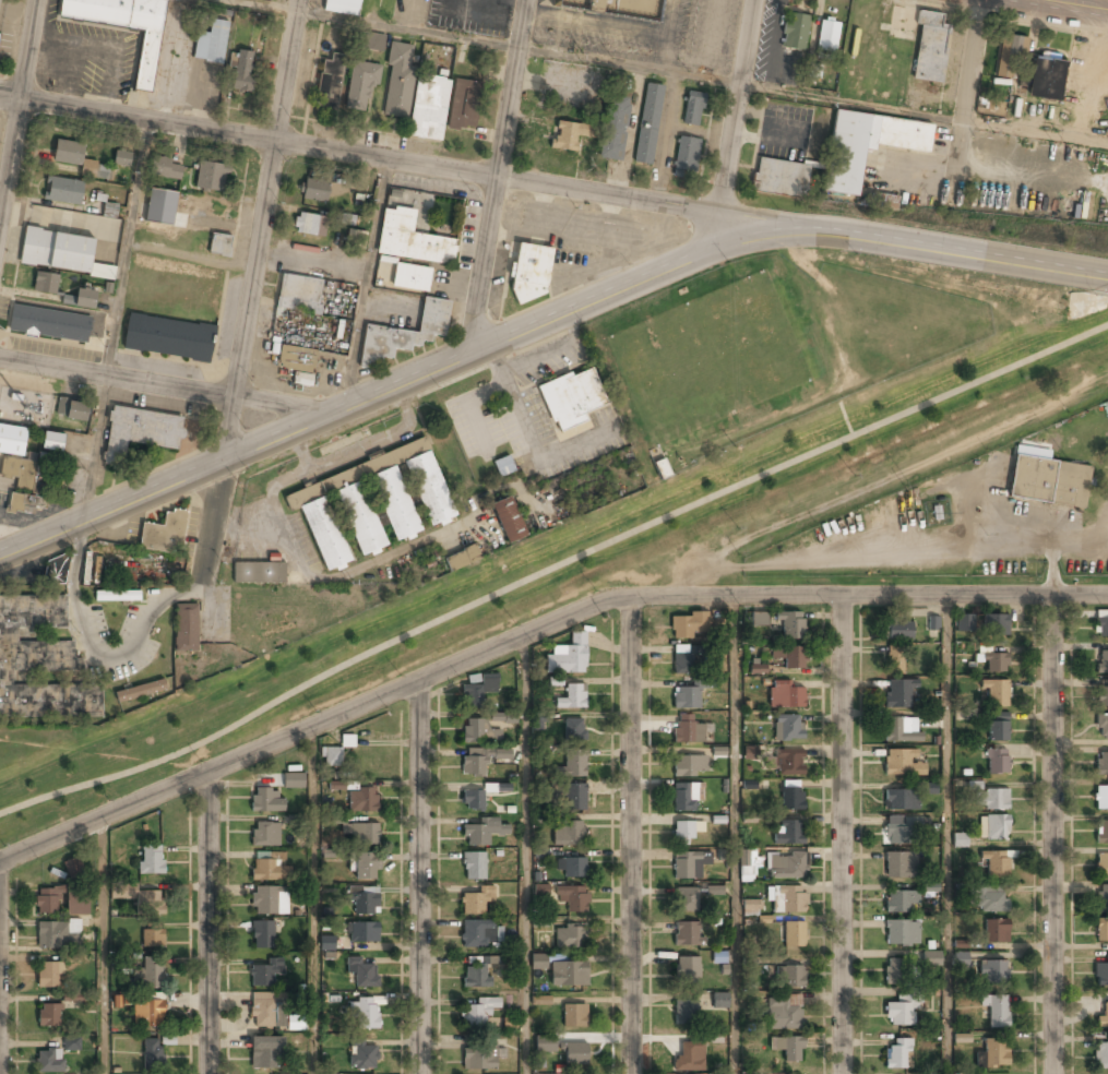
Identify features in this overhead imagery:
building: (655, 0)
building: (646, 1)
building: (563, 2)
building: (588, 3)
building: (342, 7)
road: (1064, 8)
building: (124, 27)
building: (795, 32)
building: (826, 37)
building: (373, 40)
building: (212, 43)
building: (930, 48)
building: (1010, 53)
building: (243, 71)
building: (815, 71)
building: (1046, 79)
building: (329, 81)
building: (398, 81)
building: (360, 86)
road: (974, 89)
building: (464, 104)
road: (16, 106)
building: (429, 107)
building: (693, 108)
road: (741, 108)
building: (648, 124)
building: (613, 129)
building: (569, 135)
building: (687, 155)
building: (73, 156)
building: (122, 158)
road: (389, 160)
building: (166, 169)
road: (511, 172)
building: (843, 172)
building: (210, 175)
building: (781, 178)
building: (314, 189)
building: (63, 191)
building: (159, 207)
building: (110, 210)
building: (309, 225)
building: (356, 236)
building: (410, 239)
building: (219, 244)
road: (127, 248)
building: (59, 251)
road: (943, 251)
building: (531, 272)
building: (412, 277)
building: (45, 282)
road: (254, 288)
building: (299, 294)
building: (85, 298)
building: (48, 324)
building: (404, 333)
building: (330, 334)
building: (169, 336)
building: (297, 361)
road: (169, 386)
road: (389, 390)
building: (571, 402)
building: (71, 409)
building: (140, 431)
building: (12, 440)
building: (52, 441)
building: (503, 466)
building: (17, 473)
building: (1048, 480)
building: (26, 503)
building: (436, 509)
building: (508, 520)
building: (163, 532)
building: (462, 558)
park: (579, 563)
building: (97, 566)
building: (55, 570)
building: (258, 573)
road: (553, 574)
building: (117, 596)
road: (869, 597)
building: (759, 618)
building: (932, 622)
building: (981, 623)
building: (1101, 623)
building: (689, 624)
building: (791, 624)
building: (186, 628)
building: (897, 630)
building: (568, 655)
building: (790, 655)
building: (894, 661)
building: (39, 663)
building: (683, 663)
building: (994, 663)
building: (1101, 663)
building: (555, 681)
building: (140, 690)
building: (478, 691)
building: (996, 691)
building: (785, 694)
building: (898, 694)
building: (571, 696)
building: (687, 696)
building: (1101, 697)
building: (505, 718)
building: (538, 720)
road: (313, 727)
building: (787, 727)
building: (998, 727)
building: (1101, 727)
building: (574, 729)
building: (688, 729)
building: (901, 729)
building: (479, 732)
building: (347, 740)
building: (501, 754)
building: (331, 756)
building: (998, 761)
building: (787, 762)
building: (902, 763)
building: (474, 764)
building: (1101, 764)
building: (572, 765)
building: (689, 765)
building: (293, 780)
building: (928, 788)
building: (687, 795)
building: (574, 796)
building: (476, 797)
building: (790, 797)
building: (1100, 798)
building: (901, 799)
building: (992, 799)
building: (265, 800)
building: (361, 800)
building: (541, 820)
building: (993, 827)
building: (901, 830)
building: (484, 832)
building: (684, 832)
building: (789, 832)
building: (1101, 832)
building: (568, 833)
building: (264, 834)
building: (364, 834)
road: (631, 835)
road: (735, 835)
road: (845, 835)
road: (946, 835)
road: (1056, 836)
building: (960, 839)
road: (526, 854)
building: (151, 859)
building: (746, 863)
building: (898, 863)
building: (689, 864)
building: (996, 864)
building: (365, 866)
building: (474, 866)
building: (786, 866)
building: (1101, 866)
building: (73, 867)
building: (570, 867)
building: (267, 869)
road: (422, 876)
building: (930, 887)
building: (540, 890)
building: (714, 891)
building: (572, 897)
building: (1103, 897)
building: (147, 898)
building: (365, 898)
building: (988, 898)
building: (687, 899)
building: (787, 899)
building: (78, 900)
building: (270, 900)
building: (898, 900)
building: (46, 902)
road: (310, 902)
building: (476, 902)
building: (750, 908)
road: (0, 917)
building: (539, 922)
road: (210, 923)
building: (1101, 930)
building: (996, 931)
building: (362, 932)
building: (902, 932)
building: (686, 933)
building: (51, 934)
building: (479, 934)
building: (794, 934)
building: (262, 935)
building: (570, 938)
building: (152, 939)
building: (326, 943)
road: (102, 947)
building: (720, 957)
building: (960, 958)
building: (930, 959)
building: (537, 963)
building: (362, 971)
building: (688, 971)
building: (265, 972)
building: (477, 972)
building: (897, 972)
building: (992, 972)
building: (147, 974)
building: (568, 974)
building: (1100, 974)
building: (48, 975)
building: (789, 977)
building: (720, 1000)
building: (266, 1010)
building: (996, 1011)
building: (479, 1012)
building: (686, 1012)
building: (901, 1012)
building: (148, 1013)
building: (784, 1013)
building: (364, 1014)
building: (1104, 1014)
building: (49, 1015)
building: (574, 1015)
building: (962, 1038)
building: (71, 1043)
building: (545, 1046)
building: (788, 1048)
building: (153, 1052)
building: (265, 1053)
building: (897, 1053)
building: (993, 1053)
building: (1100, 1053)
building: (574, 1054)
building: (362, 1057)
building: (689, 1057)
building: (480, 1058)
building: (49, 1061)

